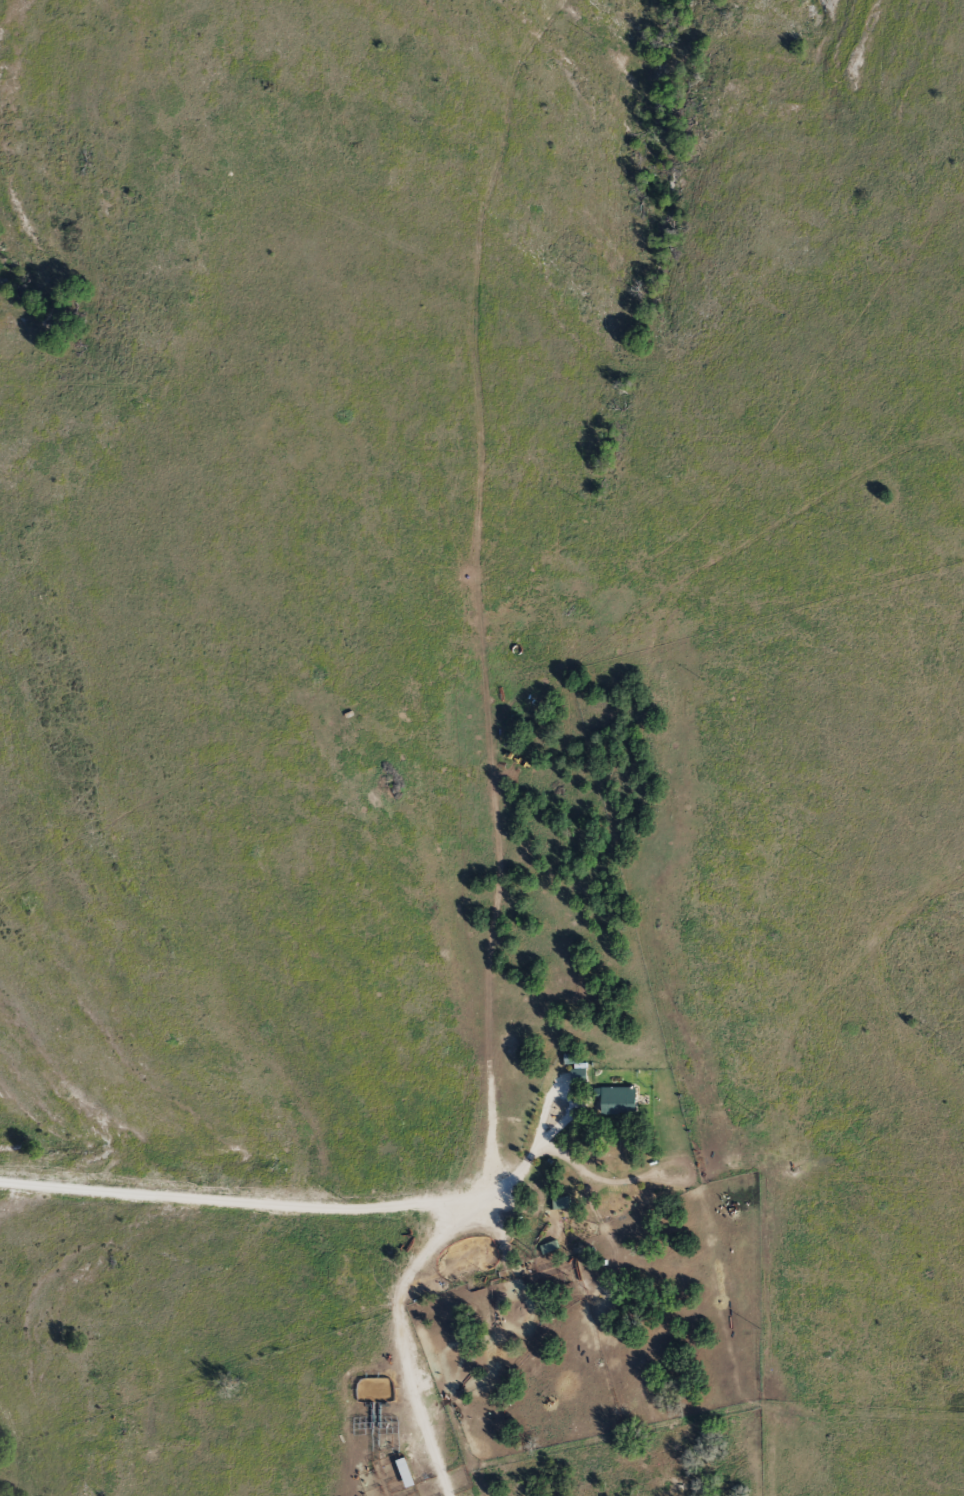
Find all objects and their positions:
building: (615, 1101)
road: (250, 1174)
building: (545, 1337)

